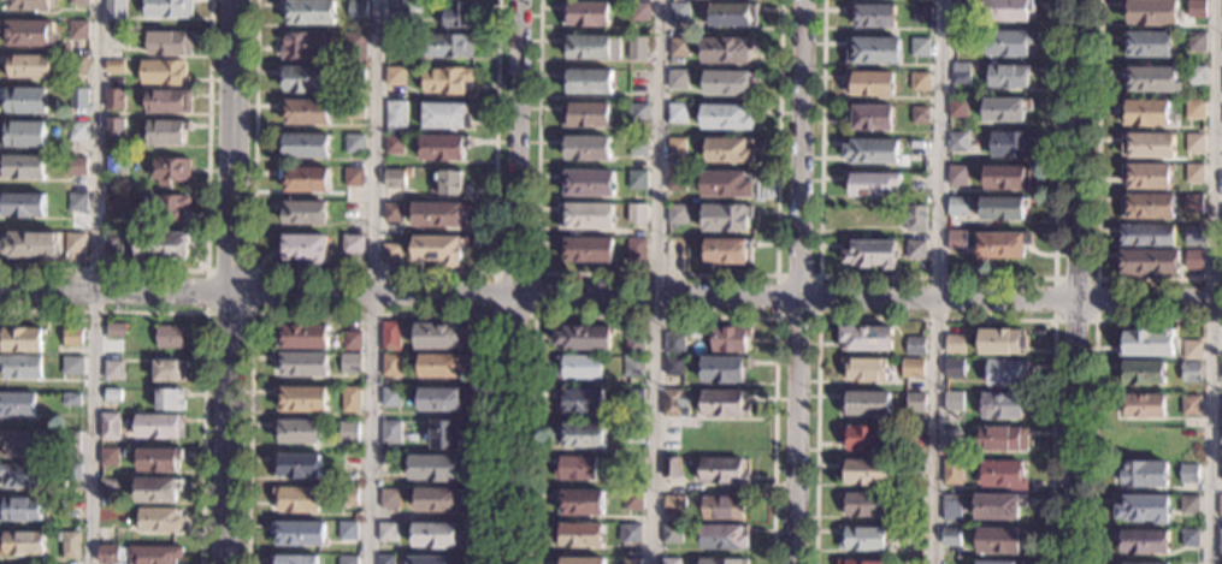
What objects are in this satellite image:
building: (78, 2)
building: (28, 5)
building: (397, 6)
building: (415, 6)
building: (958, 7)
building: (114, 8)
building: (167, 8)
building: (356, 8)
building: (1196, 8)
building: (639, 11)
building: (1008, 11)
building: (308, 12)
building: (678, 12)
building: (1152, 12)
building: (920, 13)
building: (457, 14)
building: (585, 14)
building: (730, 16)
building: (872, 16)
building: (78, 30)
building: (29, 34)
building: (117, 37)
building: (958, 40)
building: (1196, 42)
building: (1006, 43)
building: (167, 44)
building: (395, 44)
building: (1149, 44)
building: (302, 46)
building: (355, 46)
building: (448, 46)
building: (591, 47)
building: (678, 47)
building: (637, 48)
building: (919, 48)
building: (726, 51)
building: (872, 52)
building: (77, 65)
building: (26, 66)
building: (113, 66)
building: (163, 72)
building: (1006, 76)
building: (1196, 76)
building: (355, 77)
building: (395, 77)
building: (960, 78)
building: (303, 79)
building: (678, 79)
building: (1151, 79)
building: (445, 81)
building: (590, 82)
building: (919, 82)
building: (727, 83)
building: (868, 84)
building: (77, 99)
building: (113, 99)
building: (25, 100)
building: (167, 101)
building: (957, 108)
building: (354, 109)
building: (1005, 109)
building: (1193, 109)
building: (306, 112)
building: (638, 113)
building: (677, 113)
building: (1145, 114)
building: (585, 115)
building: (919, 115)
building: (445, 117)
building: (726, 117)
building: (396, 118)
building: (869, 118)
building: (114, 127)
building: (77, 131)
building: (1199, 131)
building: (163, 132)
building: (620, 132)
building: (25, 133)
building: (956, 142)
building: (354, 143)
building: (1194, 143)
building: (394, 144)
building: (1011, 144)
building: (305, 146)
building: (637, 147)
building: (677, 147)
road: (798, 147)
building: (1146, 147)
building: (443, 148)
building: (586, 148)
building: (917, 148)
building: (730, 150)
building: (872, 152)
building: (77, 165)
building: (116, 165)
building: (23, 167)
building: (170, 171)
building: (1193, 173)
building: (956, 176)
building: (1147, 176)
building: (354, 177)
building: (1005, 177)
building: (305, 179)
building: (395, 179)
building: (637, 180)
building: (677, 182)
building: (916, 182)
building: (450, 183)
building: (588, 183)
building: (727, 184)
building: (870, 184)
building: (76, 202)
road: (1096, 202)
building: (113, 203)
building: (1192, 203)
building: (22, 206)
building: (957, 206)
building: (1146, 206)
building: (165, 207)
building: (1003, 208)
building: (302, 212)
building: (353, 212)
building: (392, 212)
building: (441, 214)
building: (637, 214)
building: (677, 214)
building: (586, 218)
building: (726, 218)
building: (914, 219)
building: (1193, 234)
road: (206, 236)
building: (1146, 236)
building: (955, 239)
building: (75, 243)
building: (353, 244)
building: (31, 245)
building: (112, 245)
building: (160, 245)
building: (1000, 245)
building: (303, 248)
building: (675, 248)
building: (439, 249)
building: (586, 250)
building: (637, 250)
building: (915, 250)
building: (728, 251)
building: (391, 253)
building: (869, 254)
building: (1221, 259)
building: (1192, 260)
building: (1147, 262)
road: (374, 274)
road: (655, 274)
road: (937, 278)
road: (94, 281)
road: (228, 281)
road: (373, 281)
road: (514, 281)
road: (655, 281)
road: (933, 281)
road: (1075, 281)
road: (1215, 281)
road: (397, 293)
road: (935, 297)
road: (1149, 299)
road: (531, 313)
road: (250, 315)
road: (651, 315)
road: (370, 316)
road: (817, 316)
road: (933, 317)
road: (1096, 321)
building: (116, 330)
building: (442, 336)
building: (73, 337)
building: (170, 337)
road: (202, 337)
building: (391, 337)
building: (303, 338)
building: (585, 338)
building: (731, 339)
building: (866, 339)
building: (20, 340)
building: (352, 340)
building: (674, 343)
building: (1003, 343)
building: (955, 344)
building: (1146, 344)
building: (634, 345)
building: (915, 346)
building: (1221, 349)
building: (1192, 350)
building: (305, 364)
building: (350, 364)
building: (72, 366)
building: (391, 366)
building: (442, 366)
building: (673, 366)
building: (20, 367)
building: (579, 367)
building: (632, 367)
building: (913, 368)
building: (954, 368)
building: (725, 369)
building: (864, 369)
building: (113, 370)
building: (169, 370)
building: (1221, 372)
building: (1004, 373)
building: (1141, 373)
building: (1191, 373)
road: (1094, 379)
building: (113, 396)
building: (391, 397)
building: (634, 398)
building: (72, 399)
building: (303, 399)
building: (352, 399)
building: (443, 399)
building: (170, 400)
building: (582, 400)
building: (952, 400)
building: (915, 402)
building: (675, 403)
building: (17, 404)
building: (722, 404)
building: (864, 404)
building: (1003, 405)
building: (1143, 405)
building: (1189, 405)
building: (1221, 405)
building: (110, 427)
building: (160, 427)
road: (796, 429)
building: (299, 432)
building: (391, 432)
building: (349, 433)
building: (634, 433)
building: (448, 434)
building: (951, 434)
building: (582, 435)
building: (913, 437)
building: (864, 438)
building: (1002, 439)
building: (1220, 439)
building: (71, 441)
building: (1143, 441)
building: (22, 444)
building: (110, 457)
building: (160, 459)
building: (636, 461)
building: (350, 463)
building: (388, 463)
building: (296, 467)
building: (671, 467)
building: (437, 468)
building: (575, 468)
building: (913, 469)
building: (866, 470)
building: (71, 471)
building: (722, 471)
building: (951, 471)
building: (1221, 473)
building: (1144, 474)
building: (1188, 474)
building: (1002, 475)
building: (19, 476)
building: (110, 487)
building: (159, 491)
building: (349, 497)
building: (390, 498)
building: (297, 499)
building: (438, 499)
building: (913, 499)
building: (633, 501)
building: (582, 503)
building: (862, 504)
building: (674, 505)
building: (1188, 505)
building: (1218, 505)
building: (998, 506)
building: (725, 507)
building: (951, 507)
building: (1143, 509)
building: (20, 510)
building: (160, 520)
building: (110, 522)
building: (348, 529)
building: (388, 532)
building: (300, 533)
building: (630, 533)
building: (911, 533)
building: (672, 534)
building: (438, 535)
building: (580, 535)
building: (725, 538)
building: (951, 538)
building: (1189, 538)
building: (862, 539)
building: (1000, 541)
building: (1143, 541)
building: (22, 542)
building: (1220, 542)
building: (69, 544)
building: (111, 554)
building: (154, 554)
building: (295, 559)
building: (386, 559)
building: (437, 559)
building: (349, 560)
building: (579, 560)
building: (631, 560)
building: (672, 560)
building: (721, 562)
building: (860, 562)
building: (998, 562)
building: (1145, 563)

